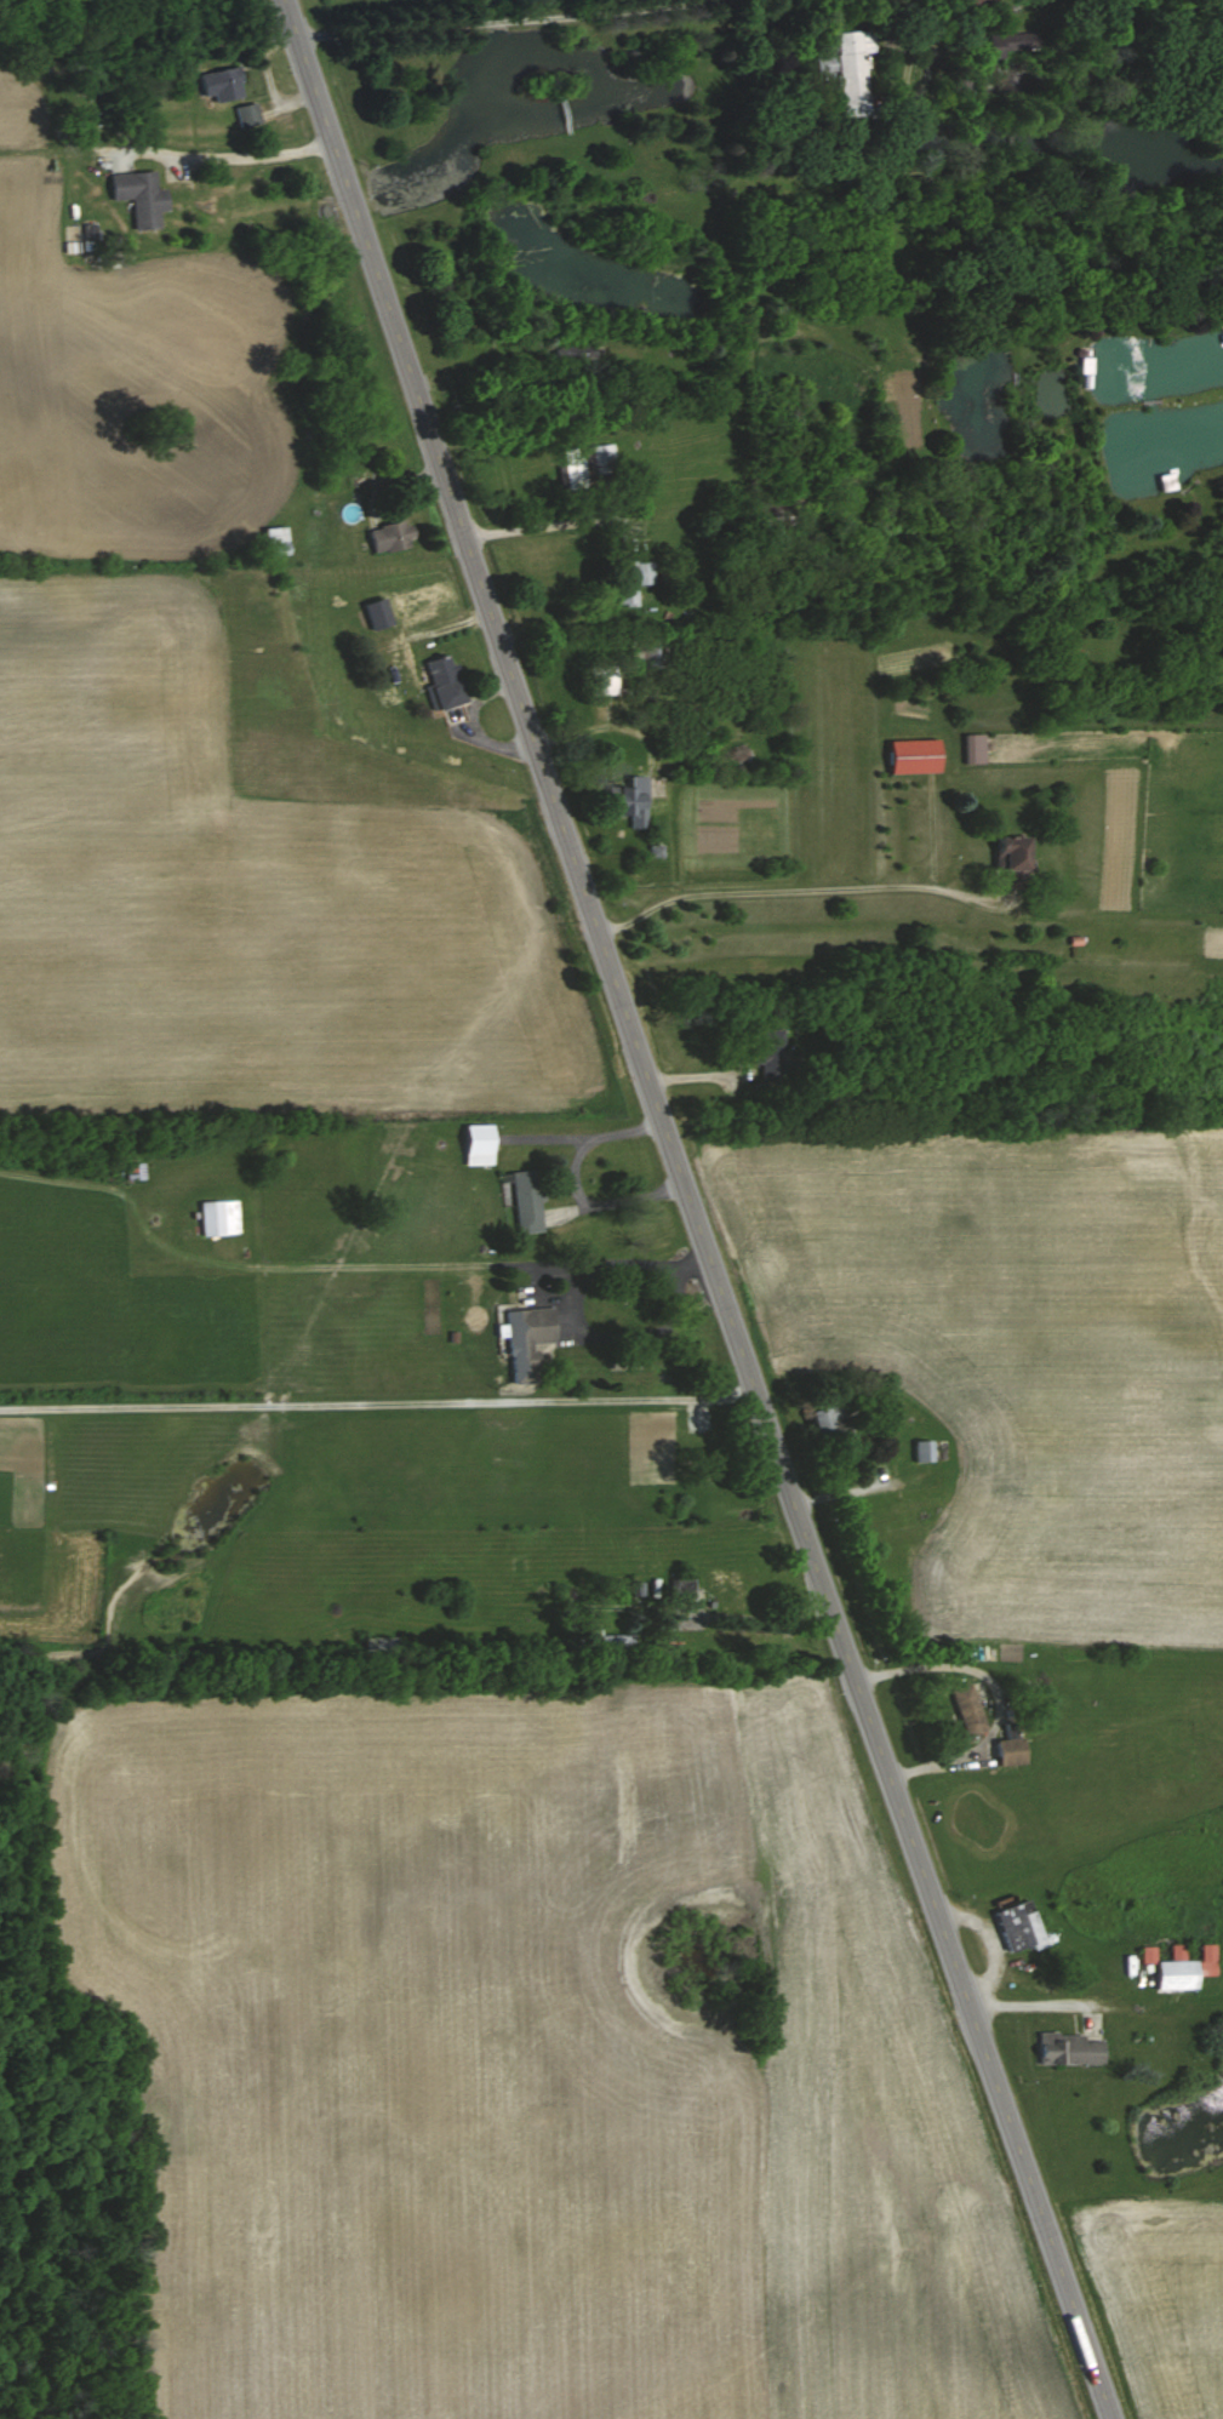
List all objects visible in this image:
building: (977, 4)
road: (508, 19)
building: (1007, 41)
road: (908, 58)
building: (822, 63)
building: (850, 69)
road: (926, 72)
building: (218, 84)
building: (245, 114)
road: (251, 154)
building: (136, 196)
building: (570, 351)
building: (1081, 365)
building: (600, 458)
building: (571, 468)
building: (1165, 482)
road: (539, 524)
building: (388, 536)
building: (272, 541)
building: (627, 578)
building: (8, 594)
building: (373, 613)
building: (650, 651)
building: (605, 679)
building: (439, 682)
building: (970, 748)
building: (909, 755)
building: (625, 801)
building: (1007, 862)
road: (795, 887)
building: (767, 1053)
building: (474, 1143)
building: (132, 1171)
building: (524, 1200)
road: (692, 1209)
building: (215, 1217)
road: (624, 1260)
building: (524, 1340)
road: (522, 1400)
road: (280, 1402)
road: (136, 1405)
building: (822, 1422)
building: (920, 1449)
building: (718, 1589)
building: (599, 1640)
building: (377, 1643)
building: (965, 1709)
building: (1006, 1750)
building: (1016, 1926)
building: (1176, 1962)
road: (1028, 2003)
building: (1064, 2048)
road: (8, 2403)

